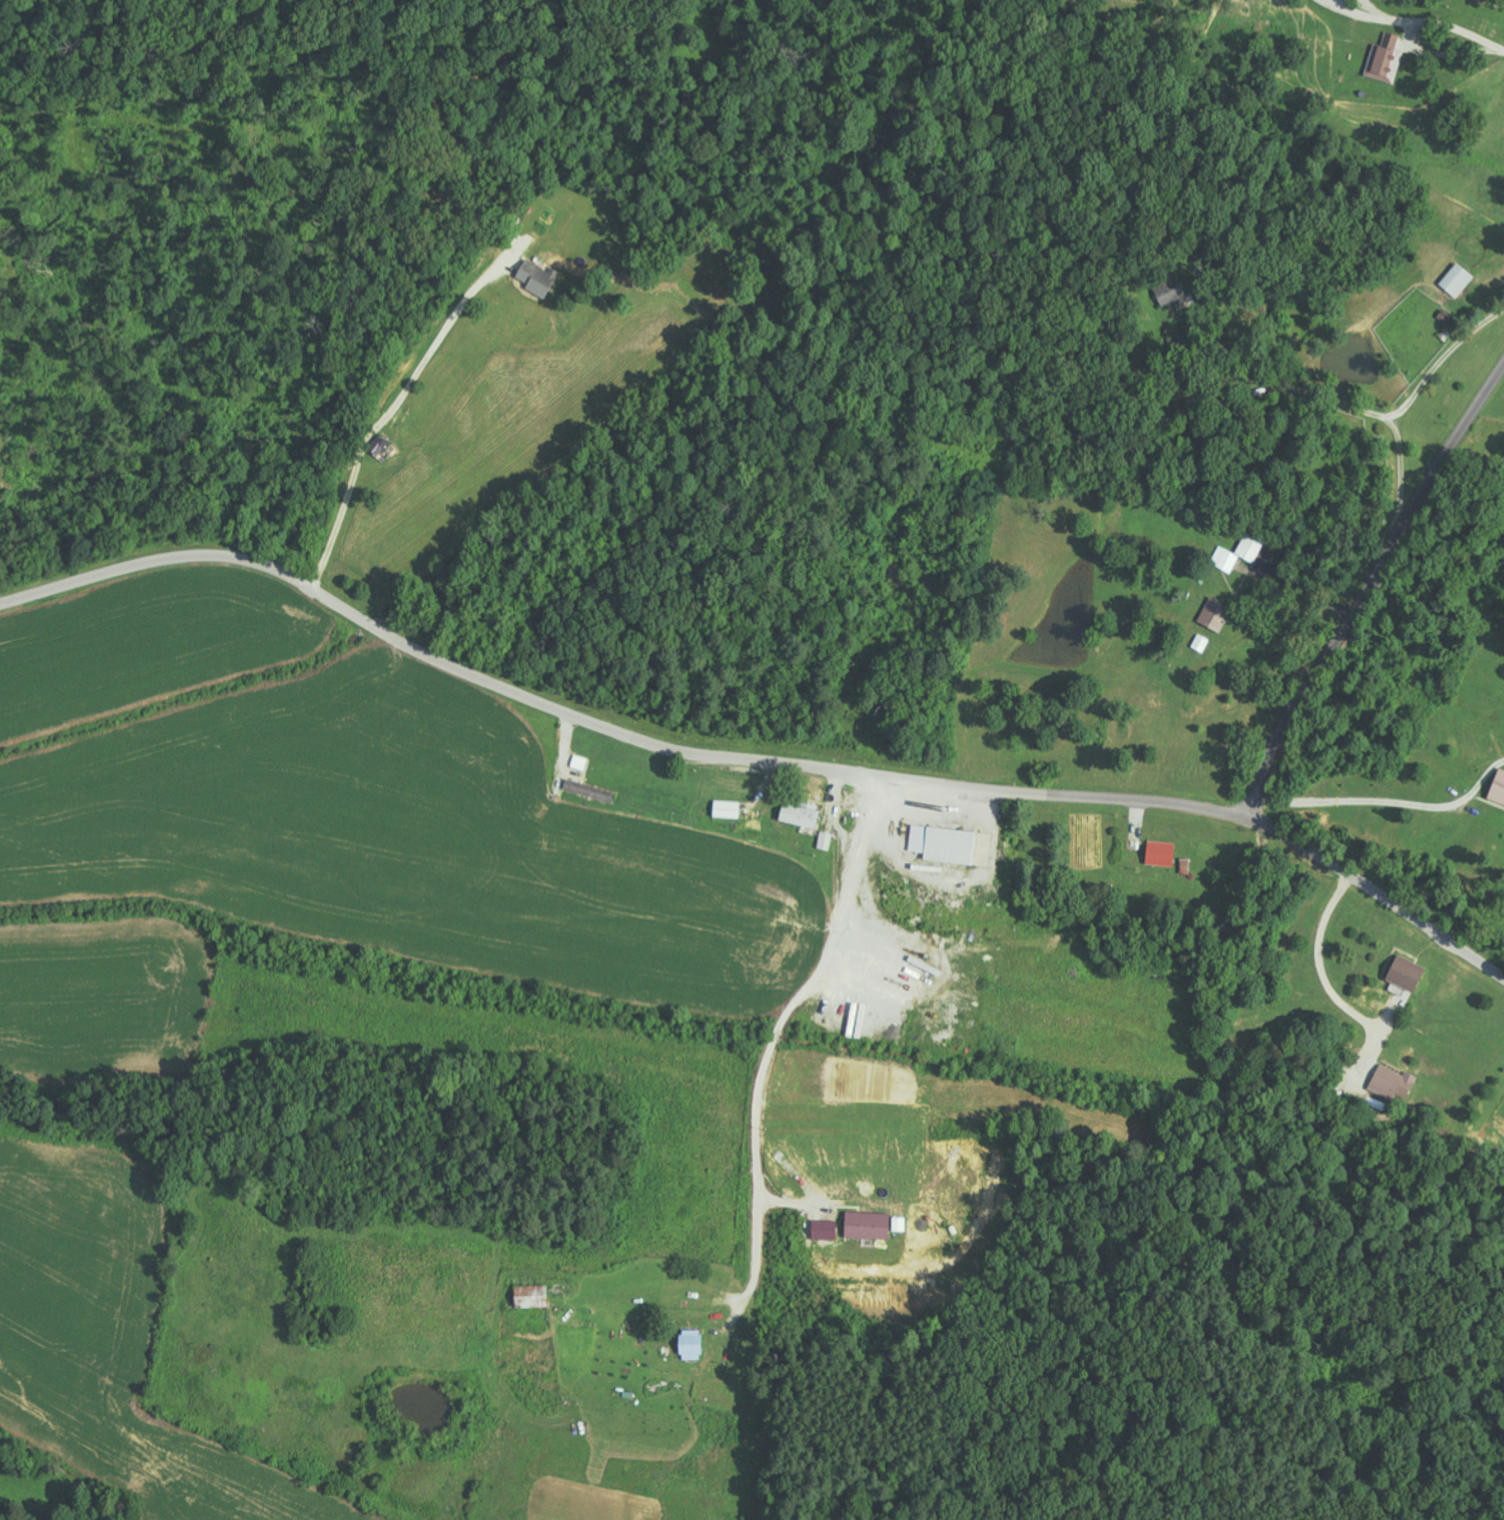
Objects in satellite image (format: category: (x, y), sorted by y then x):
building: (1385, 60)
road: (1241, 141)
building: (538, 276)
building: (1457, 279)
building: (1172, 291)
building: (380, 444)
road: (1368, 592)
building: (1215, 613)
road: (752, 760)
building: (1498, 788)
building: (589, 790)
road: (1387, 801)
building: (727, 809)
building: (800, 814)
building: (825, 840)
building: (944, 844)
building: (1161, 853)
building: (1407, 974)
road: (763, 1038)
building: (1393, 1083)
building: (1374, 1101)
building: (826, 1225)
building: (868, 1225)
building: (532, 1297)
building: (692, 1345)

